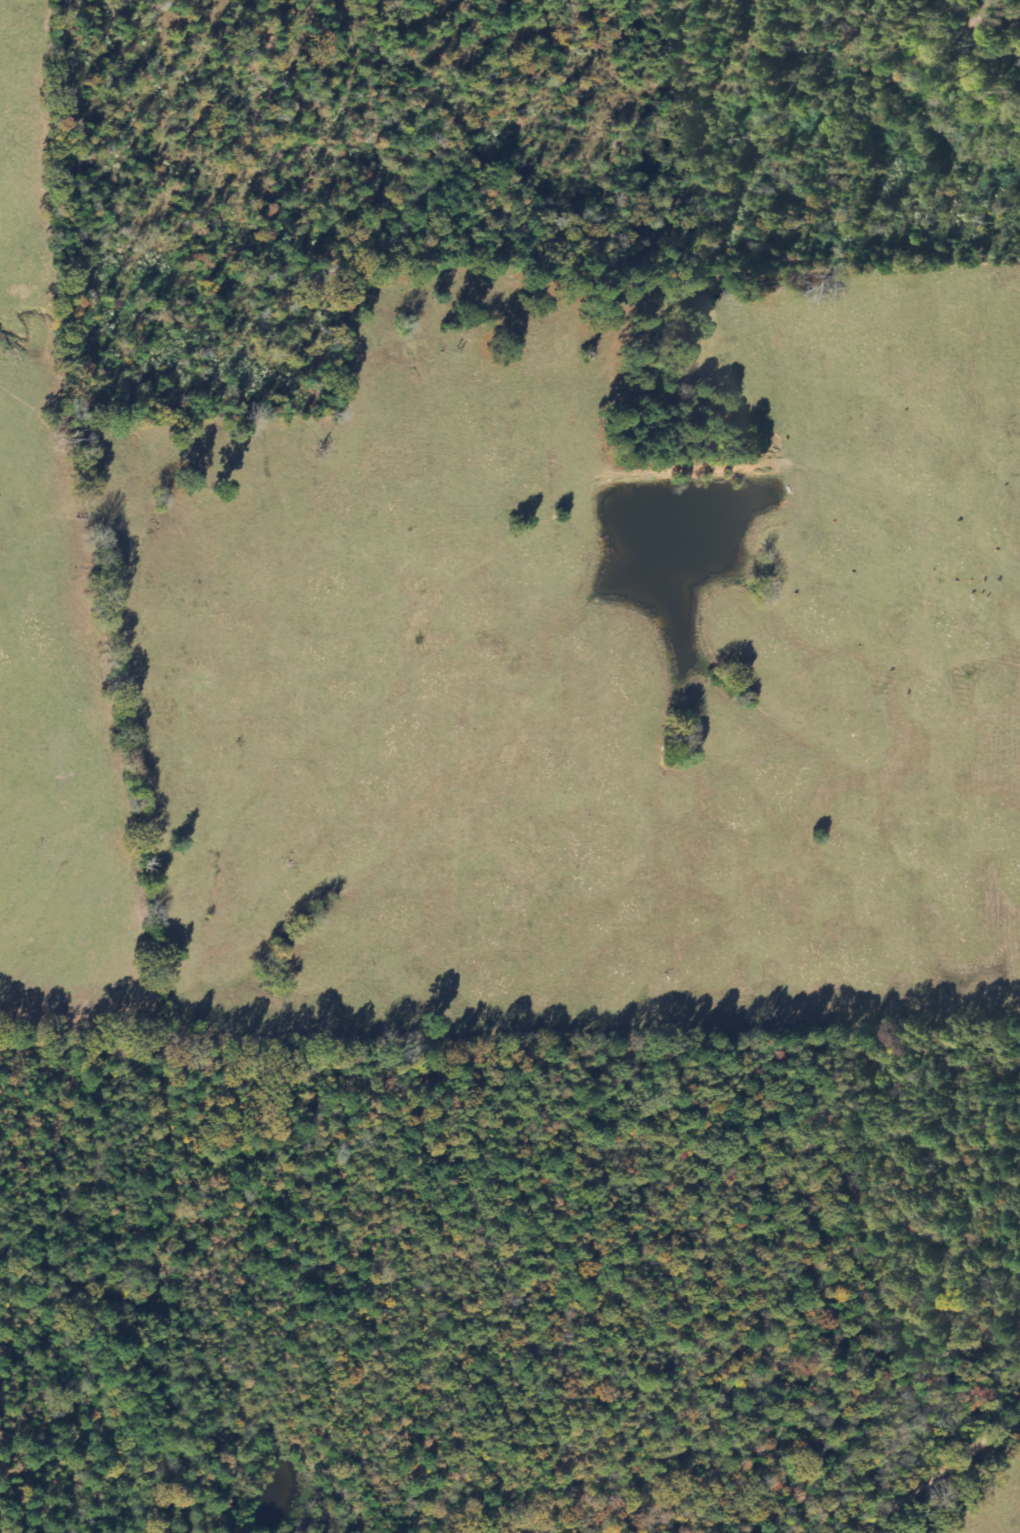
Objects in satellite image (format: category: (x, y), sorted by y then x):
road: (1004, 28)
road: (947, 1476)

